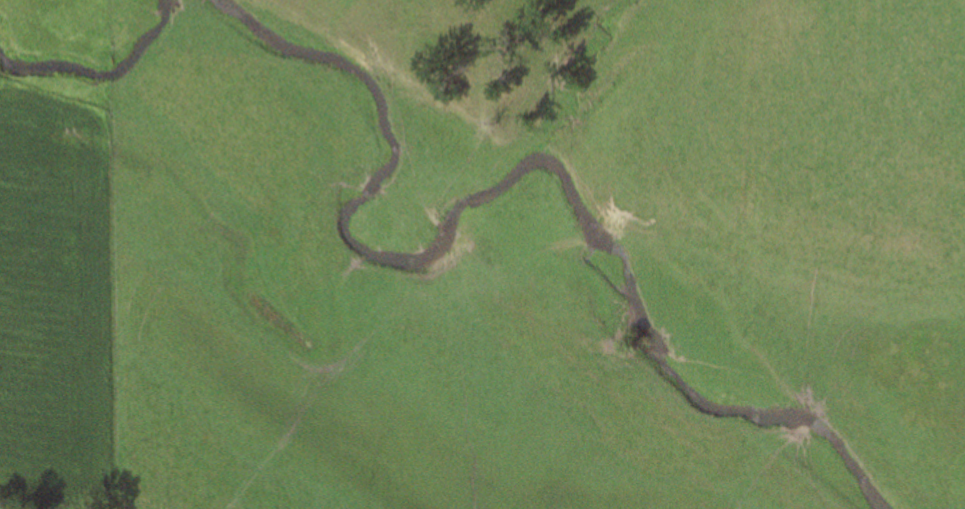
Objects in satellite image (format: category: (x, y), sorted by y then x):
river: (98, 75)
river: (514, 174)

